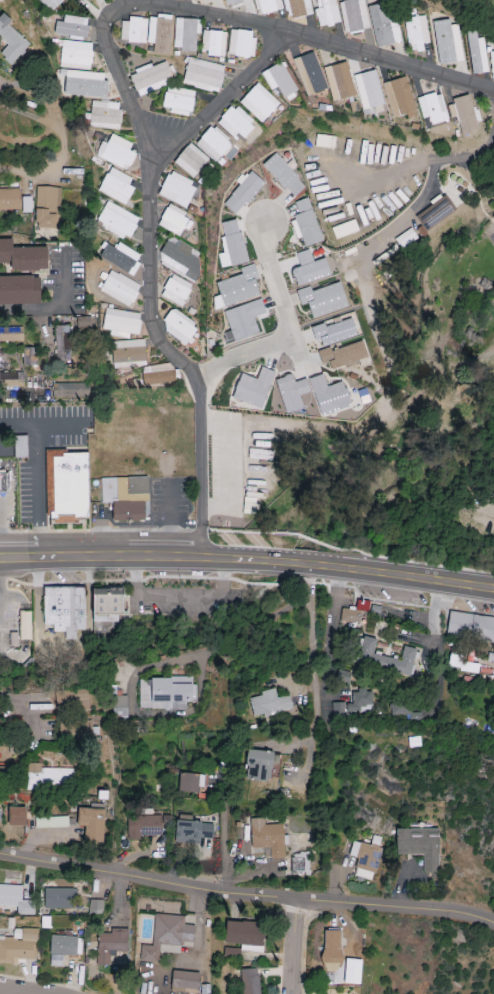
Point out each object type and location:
building: (198, 0)
building: (233, 2)
building: (50, 3)
building: (267, 6)
building: (297, 8)
building: (327, 13)
building: (353, 16)
building: (382, 27)
building: (72, 28)
building: (133, 30)
building: (416, 33)
building: (159, 34)
building: (185, 34)
building: (10, 40)
building: (447, 42)
building: (214, 43)
building: (241, 43)
building: (76, 53)
building: (477, 54)
building: (492, 63)
building: (309, 74)
building: (203, 75)
building: (150, 78)
building: (279, 81)
building: (339, 81)
building: (85, 84)
building: (368, 89)
road: (222, 94)
road: (130, 95)
building: (399, 98)
building: (178, 101)
building: (259, 103)
building: (432, 108)
building: (105, 114)
building: (463, 114)
road: (51, 120)
building: (234, 122)
building: (213, 144)
building: (116, 152)
building: (190, 161)
road: (27, 171)
building: (284, 175)
building: (116, 186)
road: (427, 186)
building: (177, 190)
building: (243, 193)
building: (9, 199)
building: (47, 207)
building: (435, 212)
building: (117, 221)
building: (305, 224)
building: (405, 238)
building: (231, 245)
building: (23, 255)
building: (121, 258)
building: (180, 260)
building: (310, 268)
building: (119, 288)
building: (20, 289)
building: (176, 290)
building: (323, 298)
road: (54, 304)
building: (244, 319)
building: (84, 322)
building: (121, 323)
road: (285, 324)
building: (178, 327)
building: (334, 332)
building: (11, 334)
building: (61, 345)
building: (128, 353)
building: (343, 355)
building: (29, 357)
building: (157, 374)
building: (12, 380)
building: (254, 387)
building: (70, 391)
building: (292, 392)
building: (329, 396)
road: (36, 472)
building: (4, 482)
building: (67, 483)
building: (126, 497)
building: (250, 508)
road: (12, 514)
road: (168, 517)
street lamp: (20, 527)
road: (247, 561)
street lamp: (181, 581)
street lamp: (23, 590)
building: (108, 604)
building: (64, 610)
building: (350, 616)
building: (24, 625)
building: (470, 626)
building: (105, 627)
road: (328, 632)
building: (385, 659)
building: (461, 664)
road: (314, 669)
building: (164, 692)
building: (71, 700)
road: (27, 703)
building: (269, 704)
building: (355, 705)
building: (119, 706)
building: (407, 710)
building: (74, 731)
building: (4, 750)
building: (260, 765)
building: (1, 777)
building: (49, 778)
building: (190, 783)
building: (17, 816)
building: (51, 822)
building: (92, 824)
building: (143, 826)
building: (194, 831)
building: (267, 837)
building: (420, 846)
road: (225, 848)
building: (365, 860)
building: (300, 863)
road: (246, 894)
building: (60, 898)
building: (15, 900)
building: (95, 907)
building: (246, 935)
building: (168, 937)
building: (111, 945)
building: (18, 946)
road: (296, 946)
building: (333, 952)
building: (250, 981)
building: (184, 982)
road: (21, 991)

